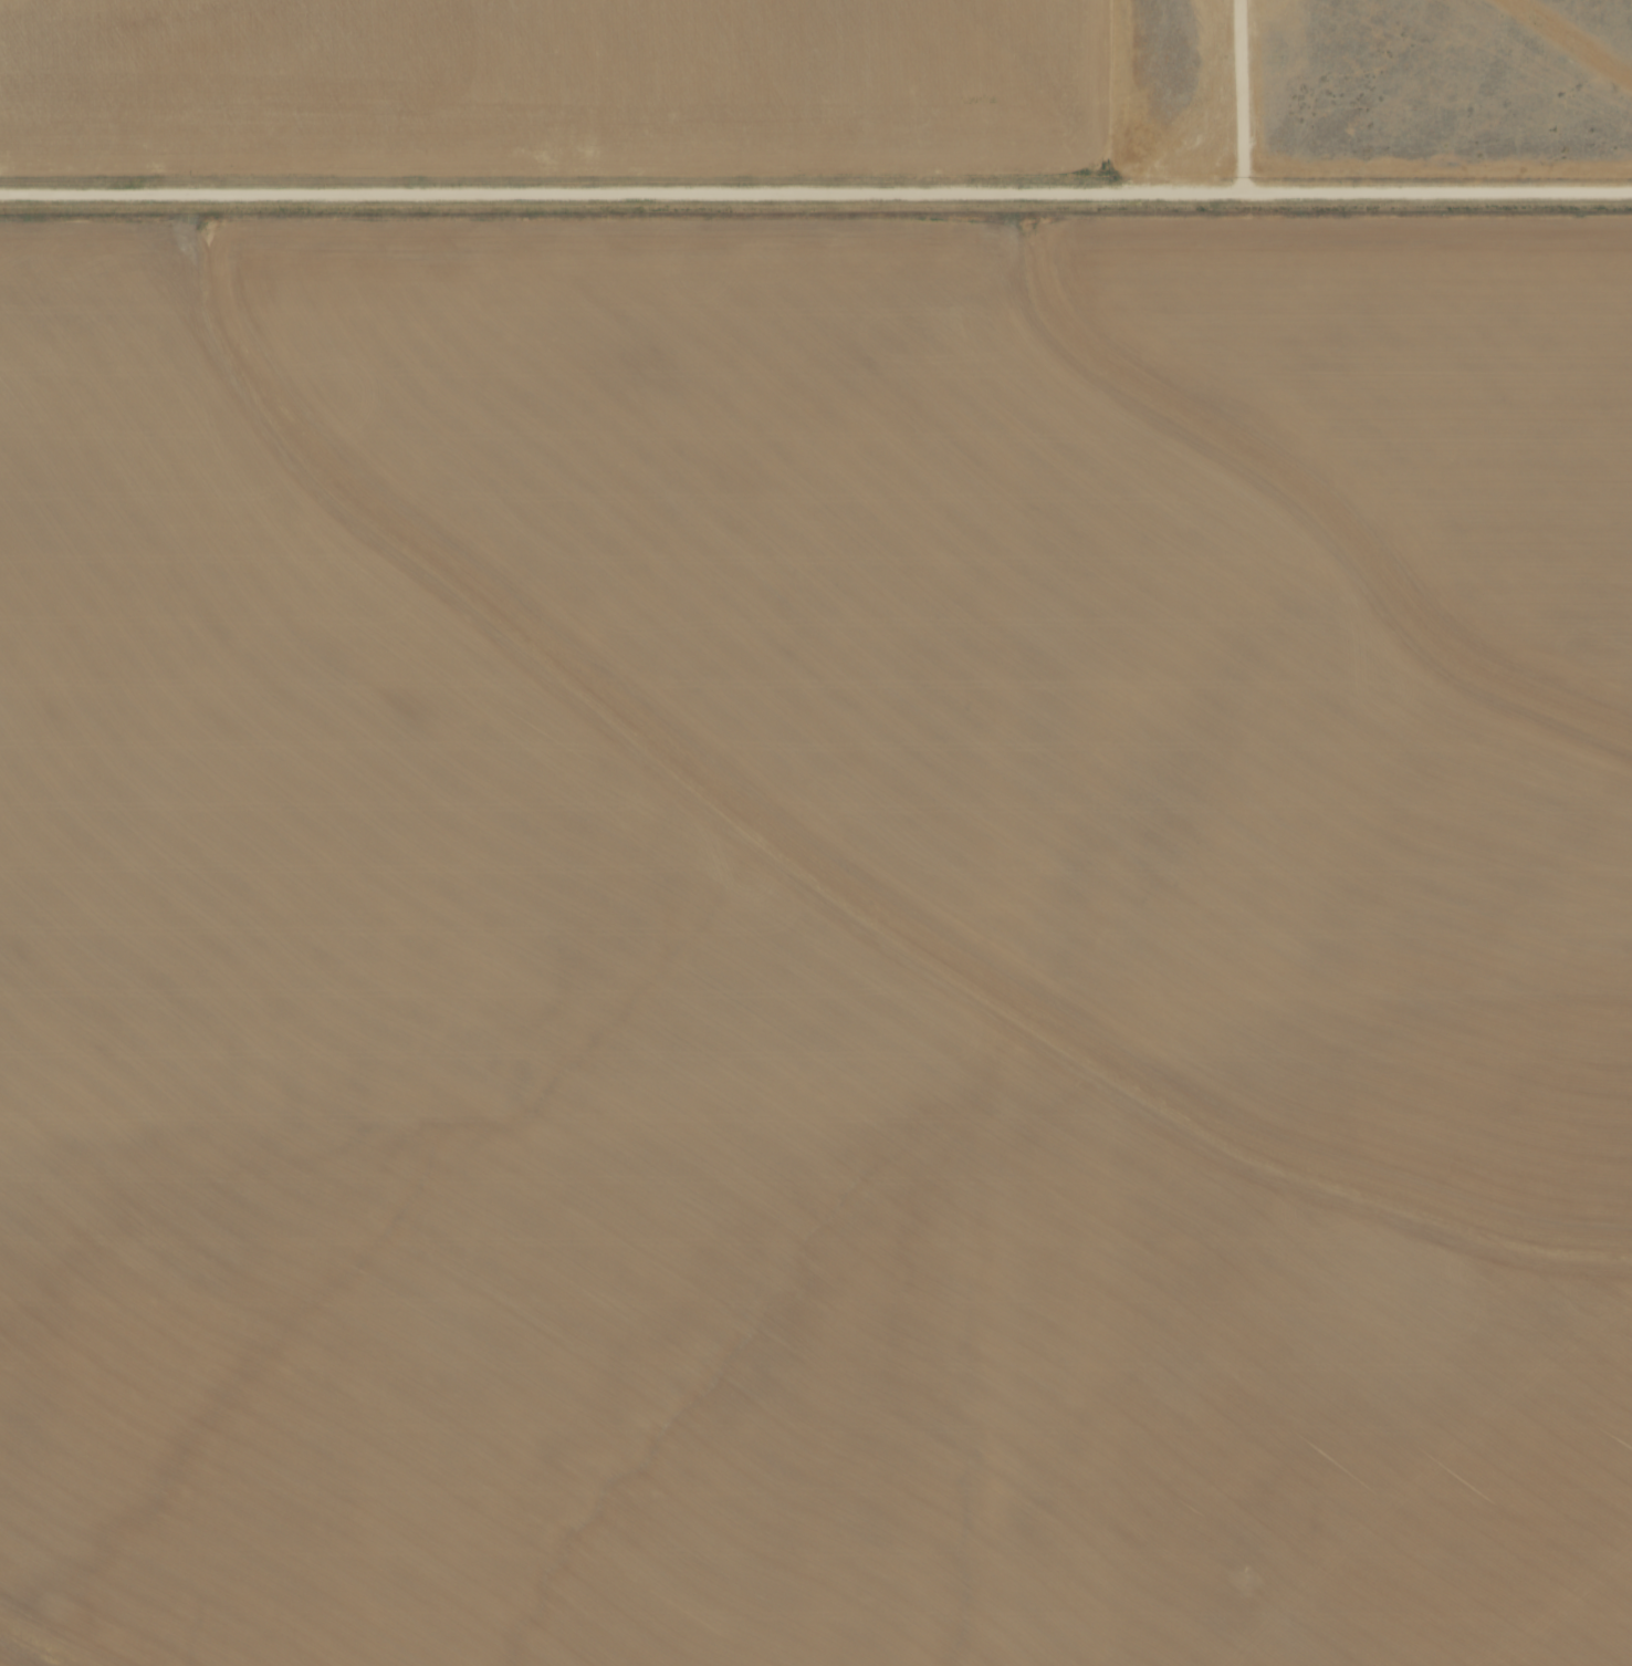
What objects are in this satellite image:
road: (1241, 96)
road: (815, 191)

